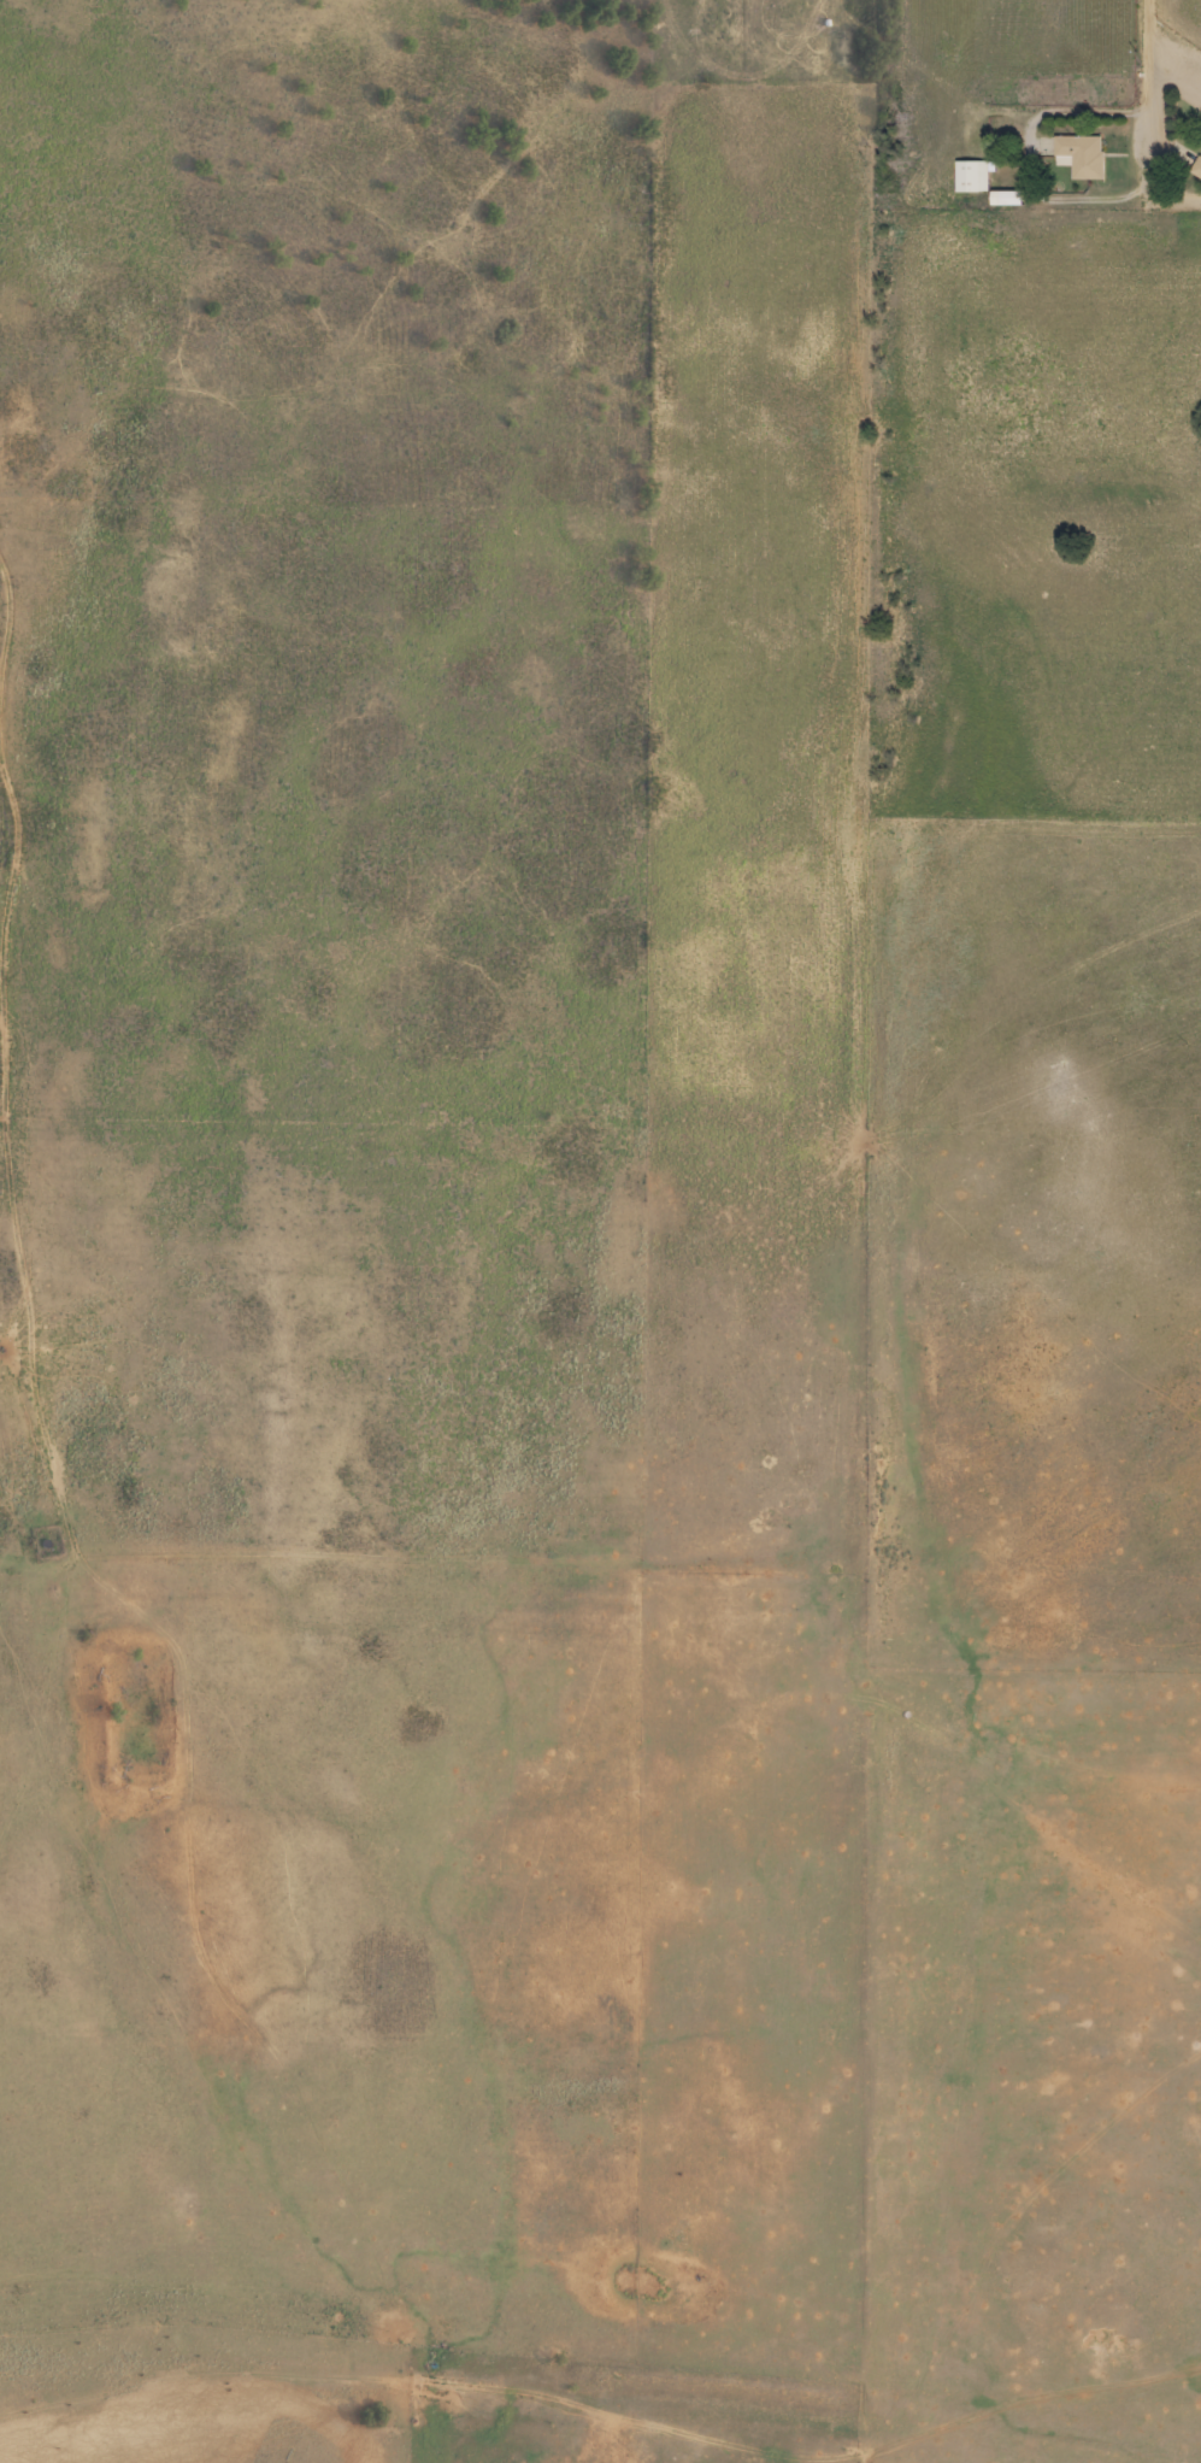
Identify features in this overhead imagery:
road: (1147, 88)
building: (1078, 153)
building: (1196, 166)
building: (969, 175)

